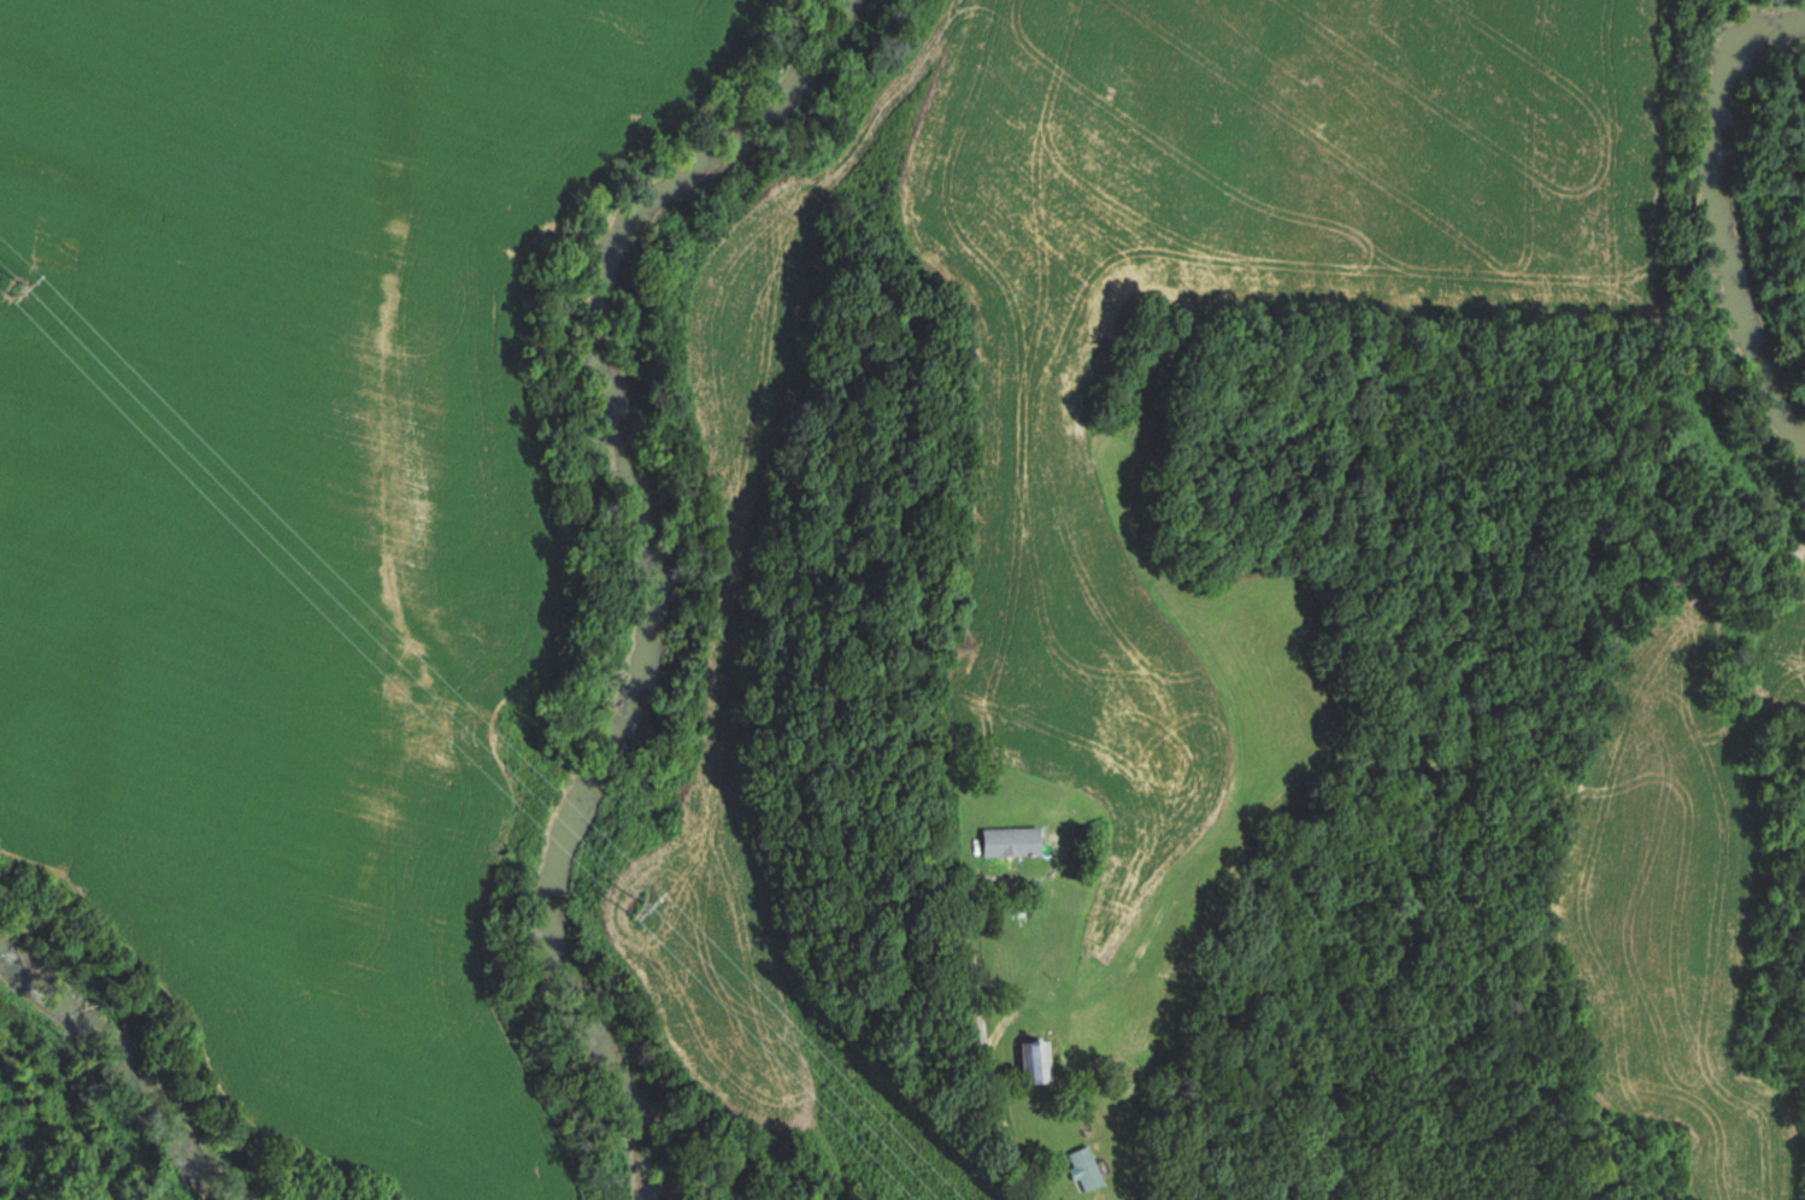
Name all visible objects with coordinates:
power tower: (10, 280)
building: (1010, 841)
power tower: (628, 898)
building: (1034, 1063)
road: (995, 1078)
building: (1083, 1169)

